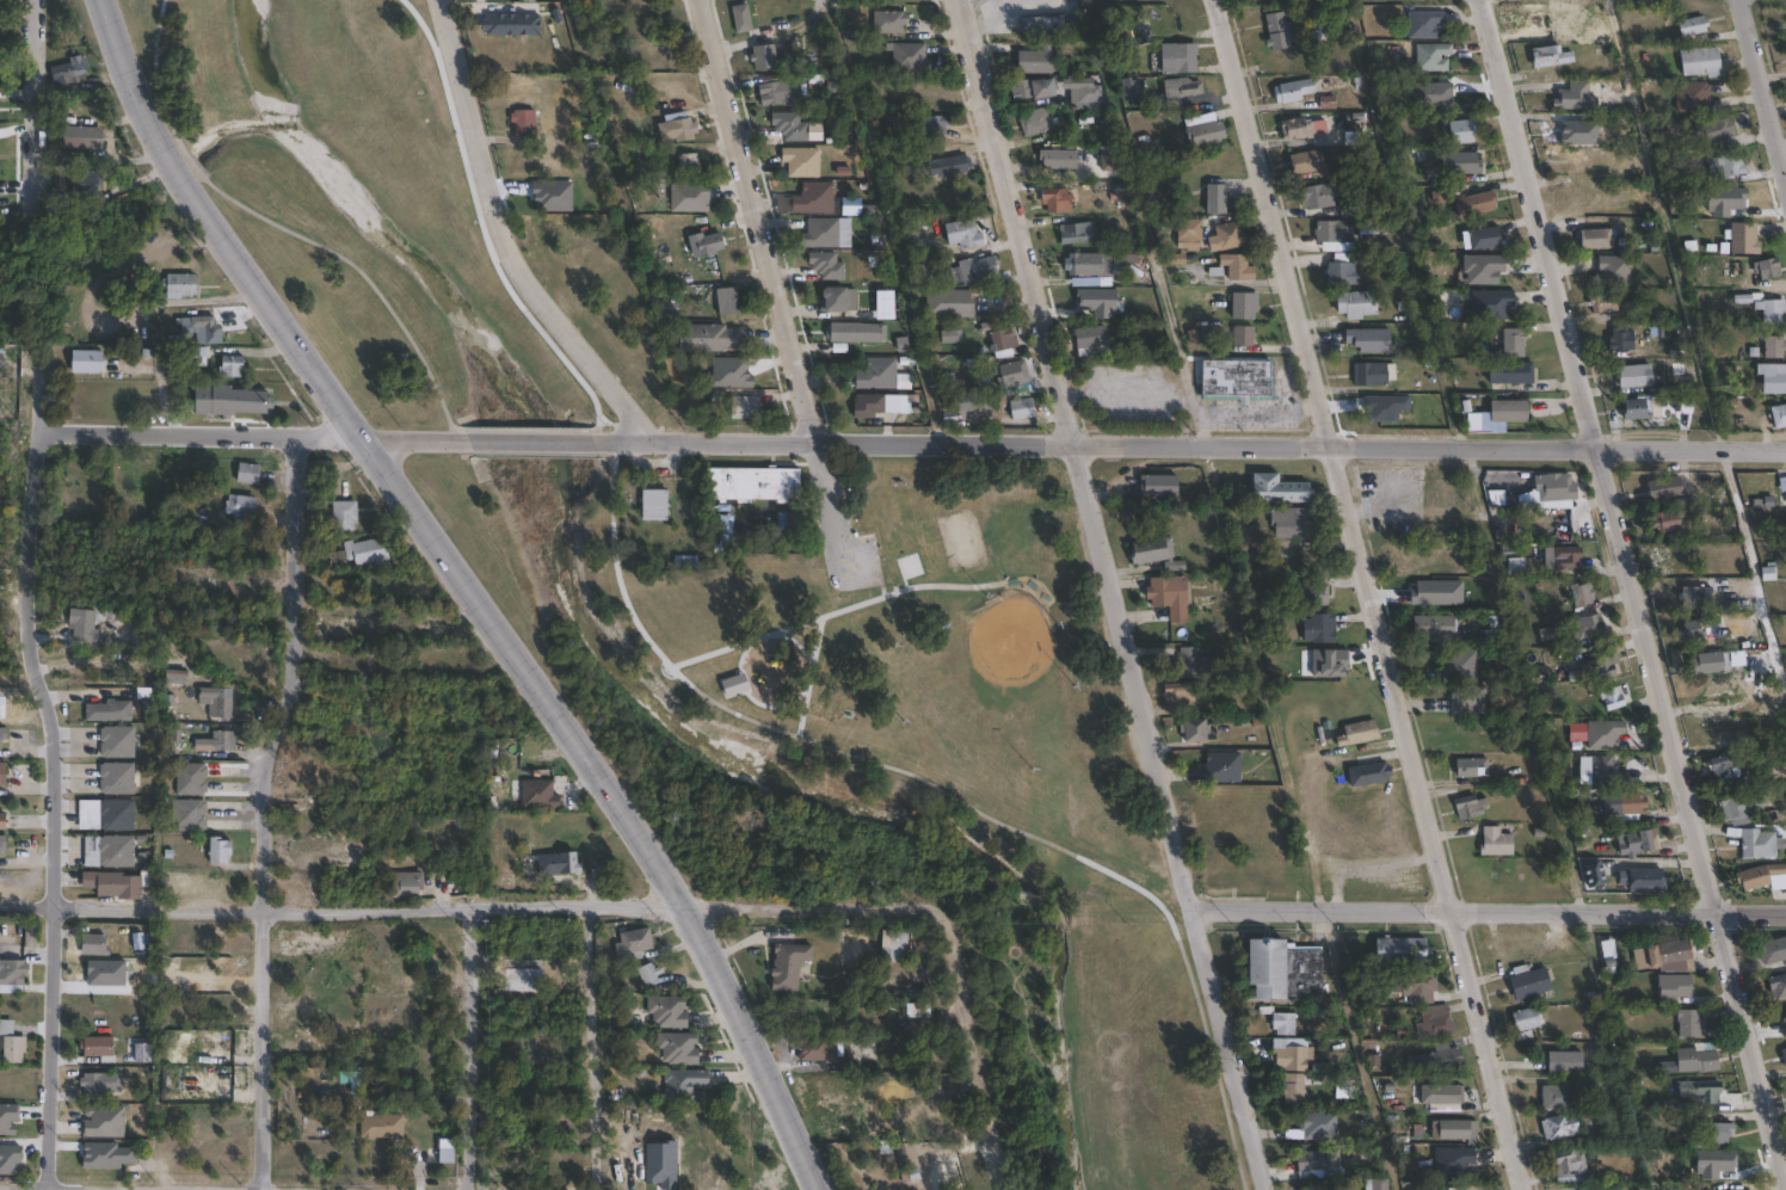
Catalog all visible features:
building: (738, 18)
building: (886, 21)
building: (1276, 23)
building: (497, 24)
building: (1040, 24)
building: (1424, 24)
building: (1692, 25)
building: (1320, 27)
building: (759, 56)
building: (907, 56)
building: (1431, 56)
building: (1550, 56)
building: (1176, 57)
building: (1035, 58)
building: (1699, 61)
building: (70, 72)
road: (1763, 84)
building: (1180, 87)
building: (1030, 88)
building: (1085, 88)
building: (1292, 90)
building: (778, 91)
building: (1692, 95)
building: (1573, 97)
road: (33, 103)
building: (1034, 119)
building: (519, 123)
building: (787, 125)
building: (932, 125)
building: (1295, 128)
building: (679, 129)
building: (1203, 129)
building: (1570, 129)
building: (1716, 129)
building: (1460, 130)
building: (78, 138)
building: (1055, 159)
building: (1587, 160)
building: (799, 161)
building: (1304, 161)
building: (1459, 161)
building: (685, 165)
building: (947, 165)
building: (1730, 165)
building: (86, 186)
building: (1317, 195)
building: (685, 197)
building: (811, 198)
building: (1214, 198)
building: (1055, 199)
building: (1342, 202)
park: (356, 203)
building: (1473, 203)
road: (1143, 221)
road: (480, 223)
road: (282, 229)
building: (1188, 230)
building: (1330, 230)
building: (1074, 232)
building: (818, 233)
building: (961, 233)
building: (1228, 235)
building: (1489, 236)
building: (1594, 238)
building: (1742, 239)
road: (504, 240)
building: (703, 243)
building: (1078, 264)
building: (824, 265)
building: (1236, 266)
building: (975, 267)
building: (1483, 267)
building: (1766, 267)
building: (1339, 270)
building: (1614, 270)
road: (777, 284)
building: (180, 285)
building: (830, 300)
building: (723, 301)
building: (949, 302)
building: (1605, 302)
building: (1490, 303)
building: (1242, 304)
building: (1355, 304)
building: (1772, 310)
building: (204, 328)
building: (855, 332)
building: (1242, 335)
building: (949, 337)
building: (706, 338)
building: (1000, 339)
building: (1367, 339)
building: (1620, 340)
building: (1089, 341)
building: (1513, 341)
building: (1773, 346)
road: (1694, 349)
building: (90, 362)
building: (233, 366)
building: (1509, 372)
building: (875, 374)
building: (1372, 374)
building: (1632, 375)
building: (1234, 377)
building: (1772, 377)
building: (1014, 378)
building: (1675, 395)
building: (234, 400)
building: (867, 405)
building: (743, 407)
building: (1021, 409)
building: (1636, 409)
building: (1509, 412)
building: (1779, 415)
road: (524, 430)
road: (255, 436)
road: (538, 442)
road: (1194, 443)
building: (244, 474)
building: (750, 485)
building: (1782, 485)
building: (1156, 486)
building: (1663, 488)
building: (1277, 489)
building: (1558, 491)
building: (1499, 499)
building: (651, 504)
building: (238, 506)
building: (340, 516)
building: (1667, 522)
building: (1293, 523)
building: (723, 530)
park: (960, 541)
building: (1156, 551)
building: (365, 554)
building: (1566, 556)
building: (334, 560)
building: (684, 562)
parking lot: (854, 568)
building: (817, 584)
road: (469, 590)
road: (1375, 593)
building: (1582, 593)
building: (1308, 594)
road: (1631, 594)
road: (1109, 596)
building: (1171, 596)
building: (1693, 598)
road: (858, 603)
building: (418, 623)
building: (1595, 624)
building: (86, 625)
building: (1477, 627)
building: (1320, 628)
building: (1435, 628)
building: (1693, 629)
park: (1009, 633)
road: (751, 639)
building: (1194, 662)
building: (1710, 662)
building: (1460, 664)
building: (1603, 666)
building: (174, 677)
building: (1182, 691)
building: (1613, 698)
building: (1468, 699)
building: (221, 702)
building: (111, 711)
building: (1196, 728)
building: (1359, 732)
building: (1603, 733)
building: (4, 738)
building: (218, 741)
building: (119, 742)
park: (901, 764)
building: (1728, 765)
building: (1218, 766)
building: (1473, 767)
building: (1613, 771)
building: (2, 772)
building: (1369, 773)
building: (119, 779)
building: (195, 779)
road: (942, 793)
building: (537, 795)
building: (1632, 802)
building: (1741, 804)
building: (1471, 806)
road: (55, 807)
road: (264, 812)
building: (110, 815)
building: (190, 815)
building: (4, 821)
building: (1497, 841)
building: (1755, 841)
building: (1639, 843)
building: (4, 846)
building: (223, 851)
building: (112, 852)
building: (558, 864)
building: (1593, 873)
building: (1760, 875)
building: (1645, 880)
building: (116, 884)
building: (406, 887)
road: (475, 907)
road: (1491, 914)
building: (630, 943)
building: (98, 945)
building: (891, 949)
building: (1402, 950)
building: (1773, 950)
building: (1673, 951)
building: (786, 966)
building: (1521, 966)
building: (1285, 969)
building: (14, 973)
building: (646, 974)
building: (1416, 981)
building: (1778, 985)
building: (1677, 986)
building: (1267, 1009)
building: (666, 1011)
building: (1437, 1021)
building: (1527, 1021)
building: (1285, 1023)
building: (1690, 1023)
building: (13, 1043)
building: (101, 1047)
road: (463, 1048)
road: (591, 1048)
building: (677, 1048)
building: (863, 1049)
building: (820, 1050)
building: (918, 1053)
building: (146, 1054)
building: (1785, 1055)
road: (977, 1058)
building: (1292, 1058)
building: (1447, 1058)
building: (1694, 1061)
building: (1564, 1062)
building: (1418, 1063)
building: (349, 1081)
building: (101, 1083)
building: (682, 1084)
building: (1294, 1090)
building: (1701, 1092)
building: (1446, 1093)
building: (1562, 1097)
building: (103, 1120)
building: (378, 1126)
building: (1317, 1126)
building: (1562, 1126)
building: (1454, 1129)
building: (1718, 1132)
building: (443, 1151)
building: (906, 1154)
building: (11, 1160)
building: (1313, 1160)
building: (1455, 1163)
building: (1571, 1165)
building: (559, 1169)
building: (1374, 1184)
building: (1322, 1185)
building: (1434, 1188)
building: (1596, 1189)
building: (1731, 1189)

